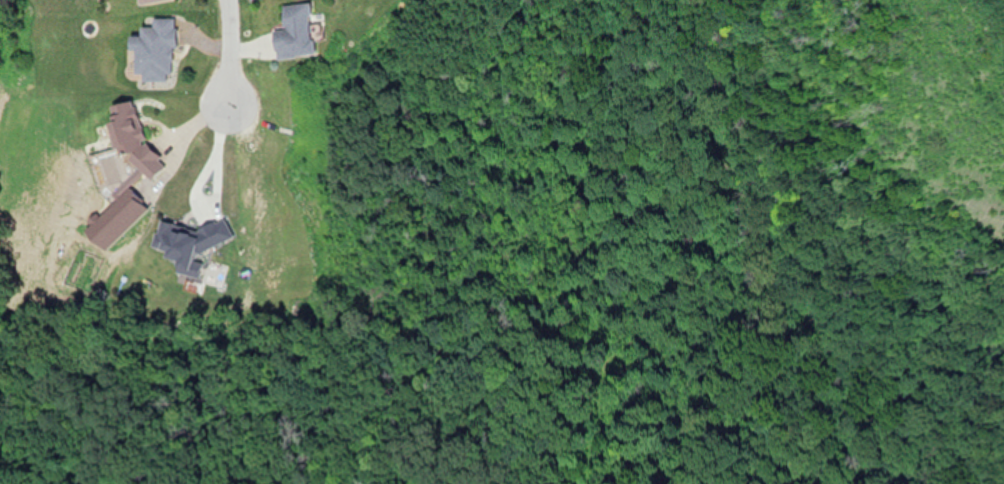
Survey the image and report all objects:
building: (149, 1)
building: (294, 25)
building: (159, 43)
road: (223, 51)
building: (131, 122)

